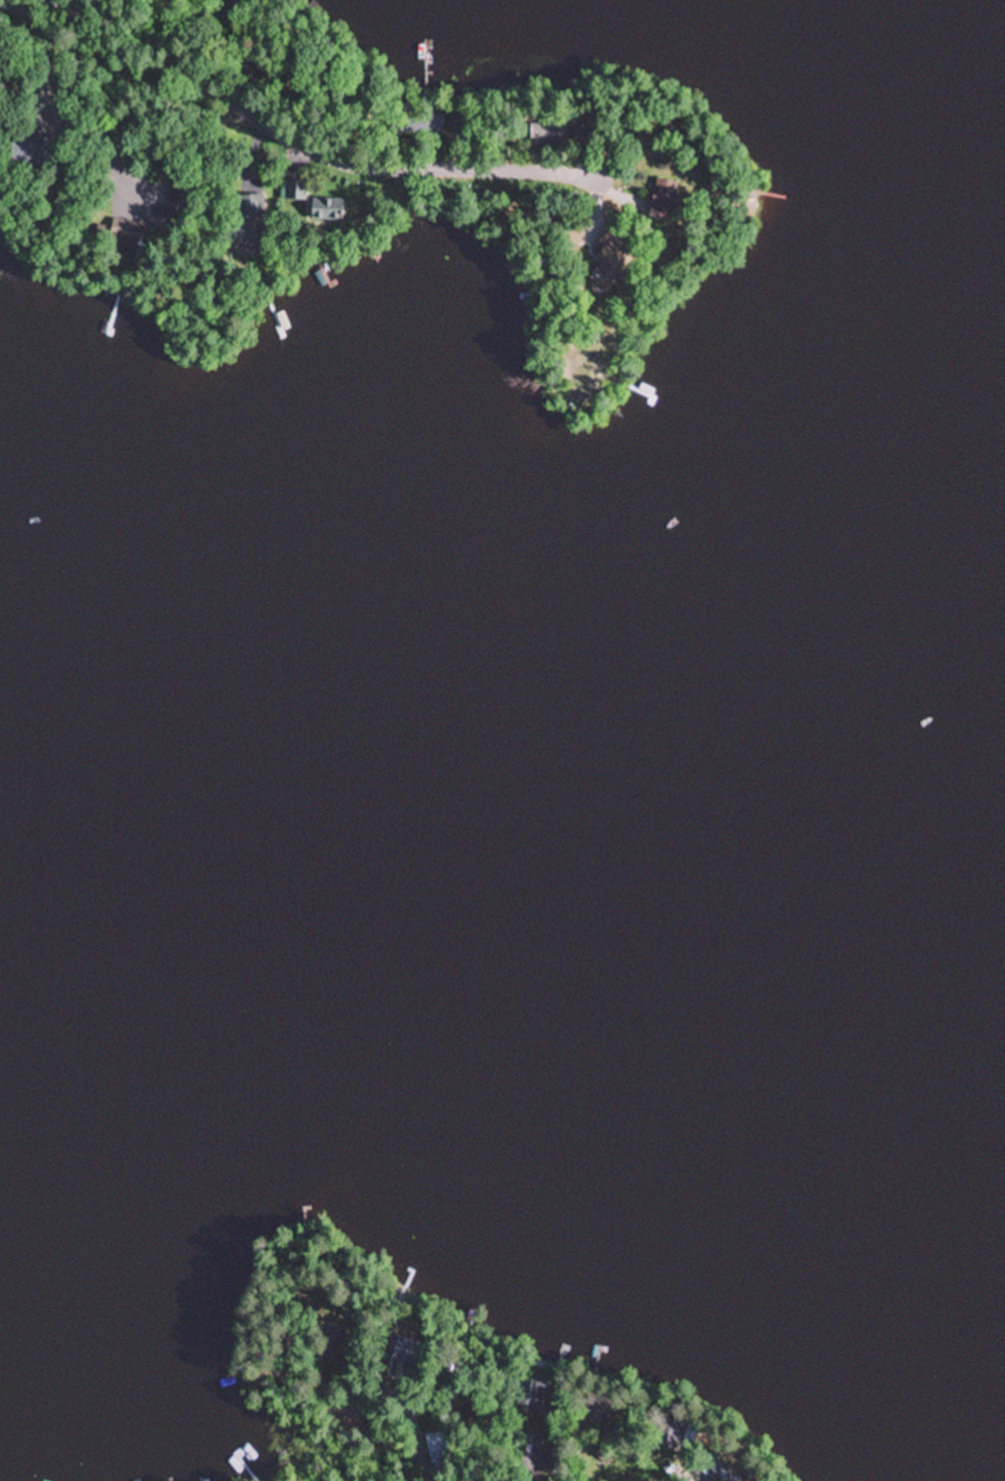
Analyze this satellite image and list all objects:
building: (549, 135)
road: (287, 141)
building: (29, 151)
building: (295, 190)
building: (178, 198)
building: (664, 199)
building: (327, 209)
building: (248, 218)
building: (121, 235)
building: (575, 235)
building: (610, 261)
building: (331, 1349)
building: (407, 1353)
building: (530, 1394)
building: (596, 1406)
road: (405, 1418)
building: (693, 1437)
building: (438, 1449)
building: (718, 1467)

